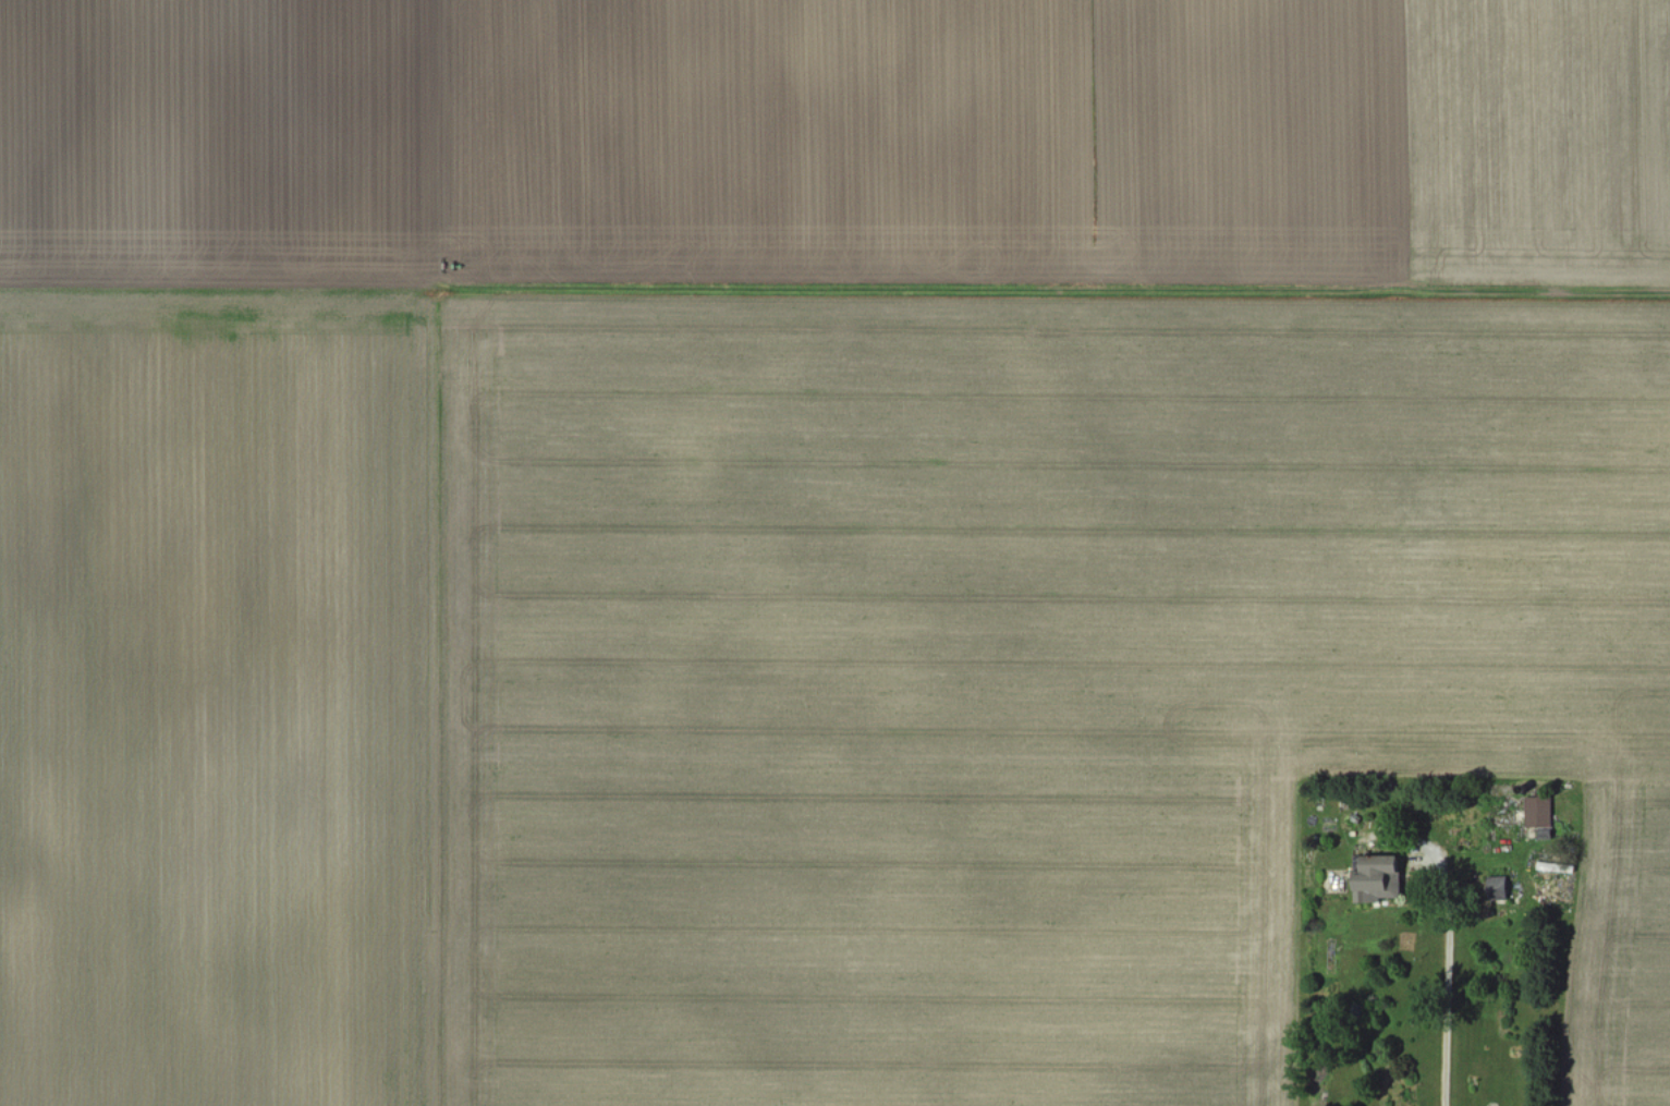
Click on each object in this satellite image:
road: (1452, 1000)

